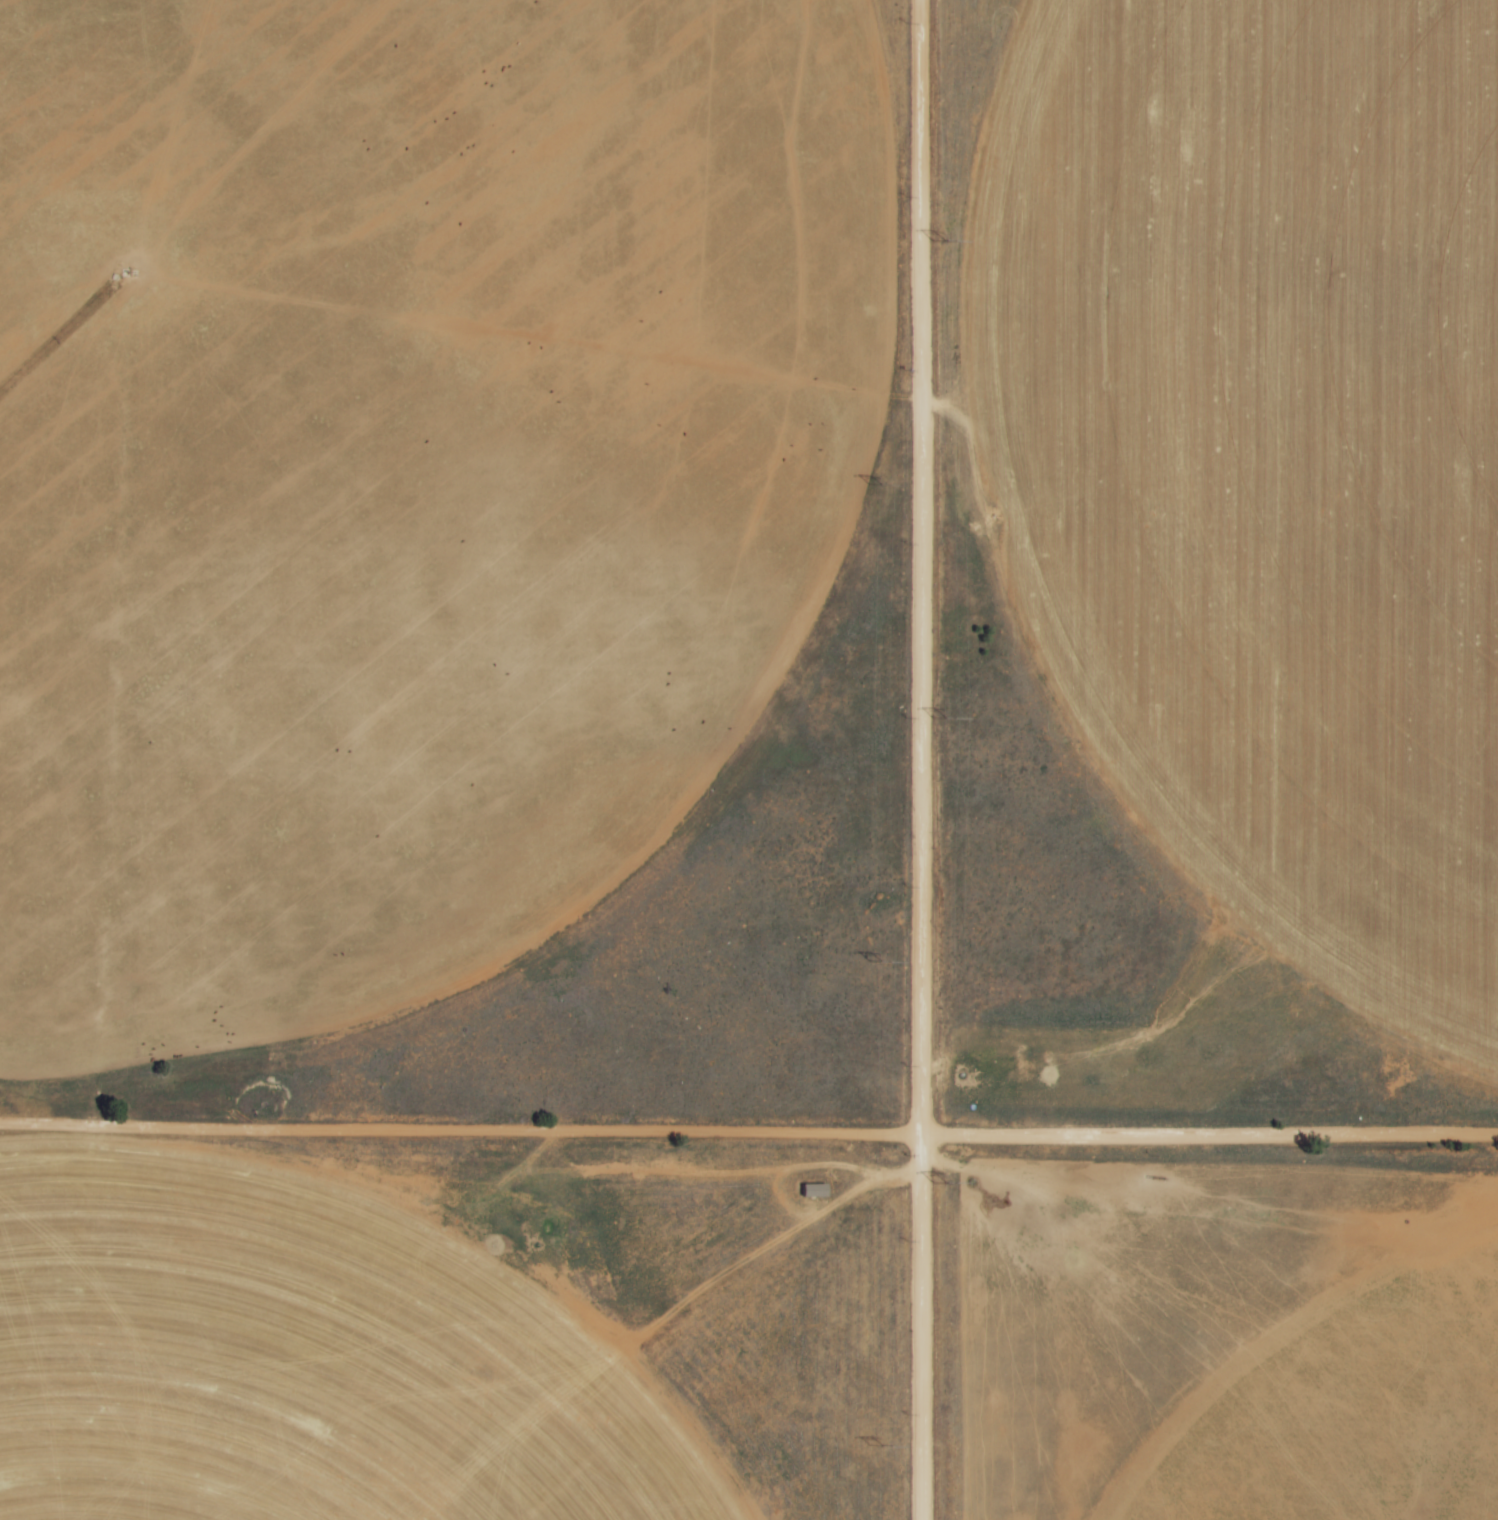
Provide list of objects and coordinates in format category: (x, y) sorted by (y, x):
power tower: (940, 239)
power tower: (876, 484)
power tower: (941, 718)
road: (922, 759)
power tower: (873, 957)
road: (748, 1136)
power tower: (940, 1181)
power tower: (879, 1444)

